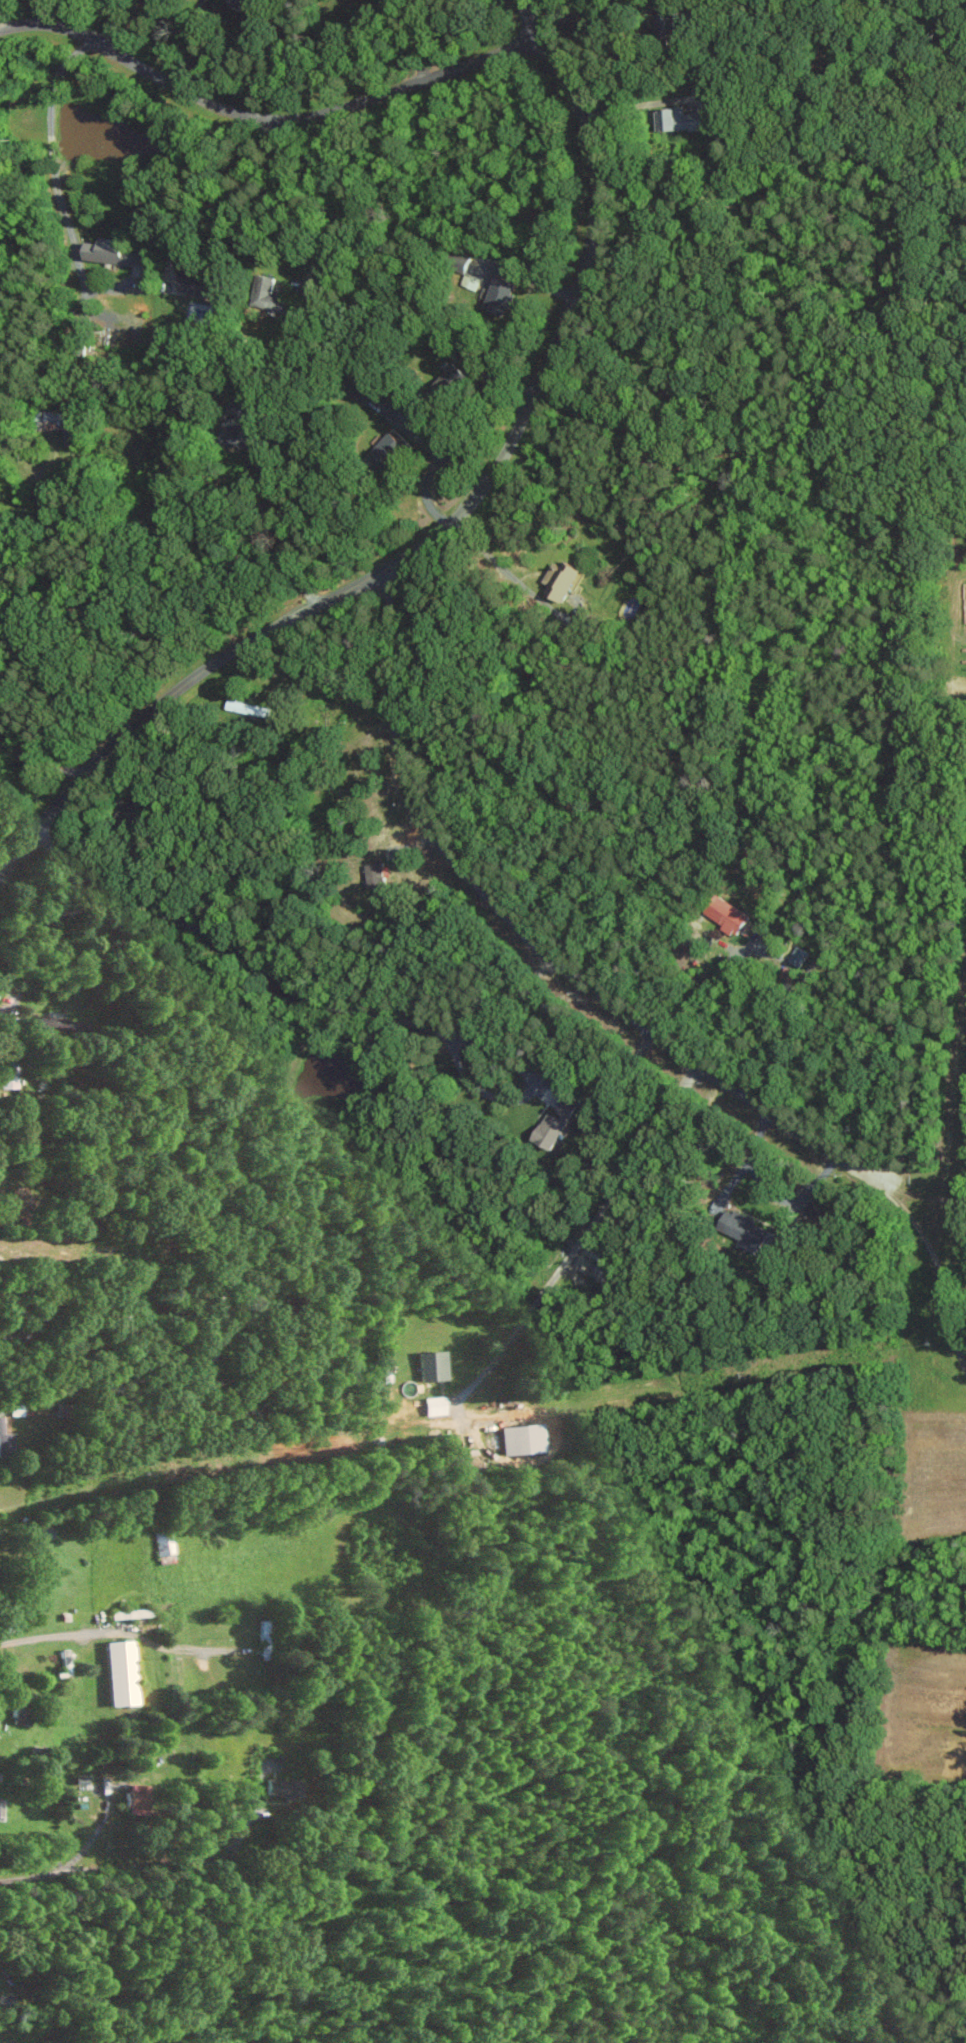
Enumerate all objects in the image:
building: (246, 3)
road: (580, 7)
road: (531, 19)
road: (112, 23)
building: (666, 27)
road: (412, 38)
road: (629, 108)
road: (267, 118)
building: (678, 120)
road: (54, 178)
road: (219, 202)
road: (352, 207)
building: (117, 253)
building: (472, 281)
building: (195, 285)
road: (106, 287)
building: (267, 295)
building: (500, 297)
building: (453, 378)
building: (52, 420)
building: (232, 434)
building: (387, 449)
road: (441, 450)
road: (423, 490)
road: (286, 522)
road: (432, 537)
road: (488, 556)
building: (560, 579)
building: (246, 708)
road: (42, 763)
building: (374, 875)
building: (724, 914)
building: (798, 956)
road: (706, 986)
road: (508, 996)
road: (330, 1004)
road: (613, 1005)
building: (50, 1022)
building: (7, 1075)
road: (603, 1100)
building: (554, 1125)
road: (807, 1195)
road: (920, 1196)
building: (19, 1199)
building: (746, 1230)
road: (580, 1238)
road: (35, 1247)
road: (103, 1356)
building: (431, 1366)
building: (521, 1439)
building: (5, 1440)
building: (165, 1543)
building: (120, 1673)
building: (285, 1789)
building: (137, 1799)
road: (92, 1841)
road: (154, 1865)

